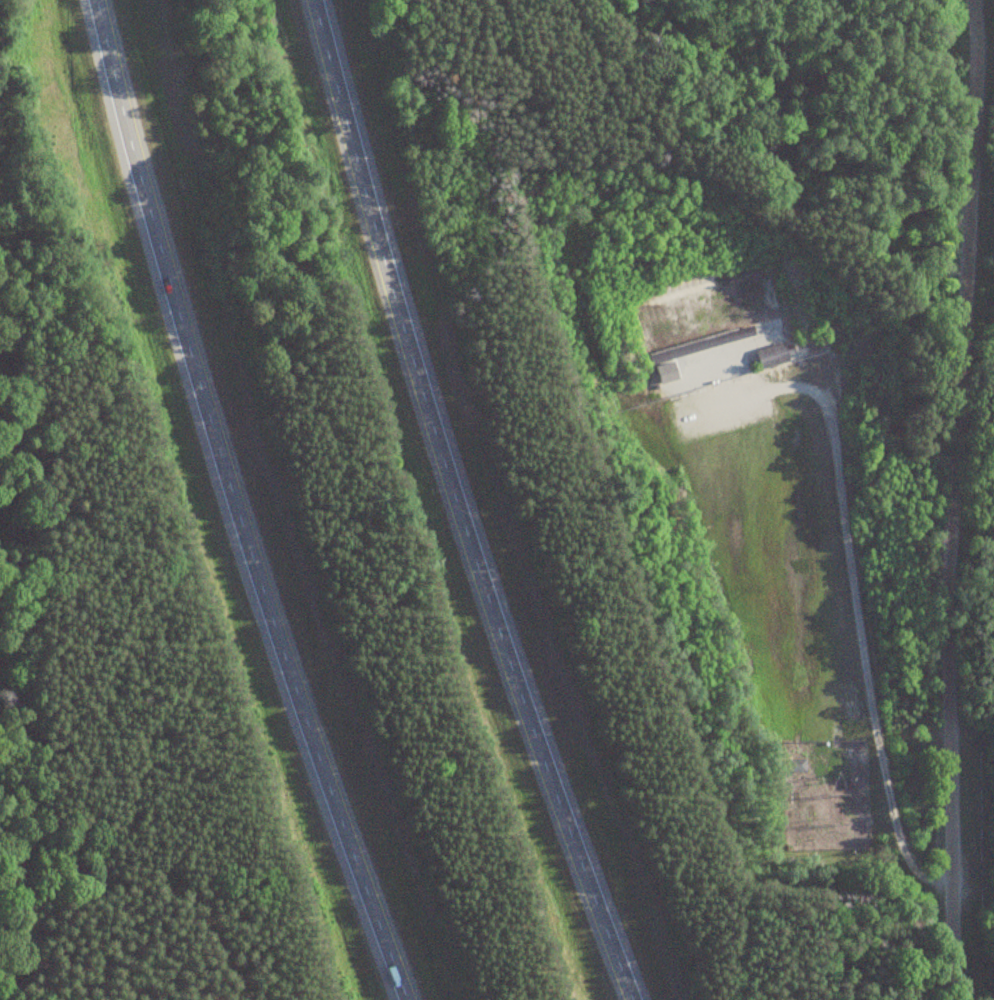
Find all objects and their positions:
building: (702, 345)
building: (772, 355)
road: (947, 499)
road: (233, 503)
road: (455, 506)
building: (797, 766)

